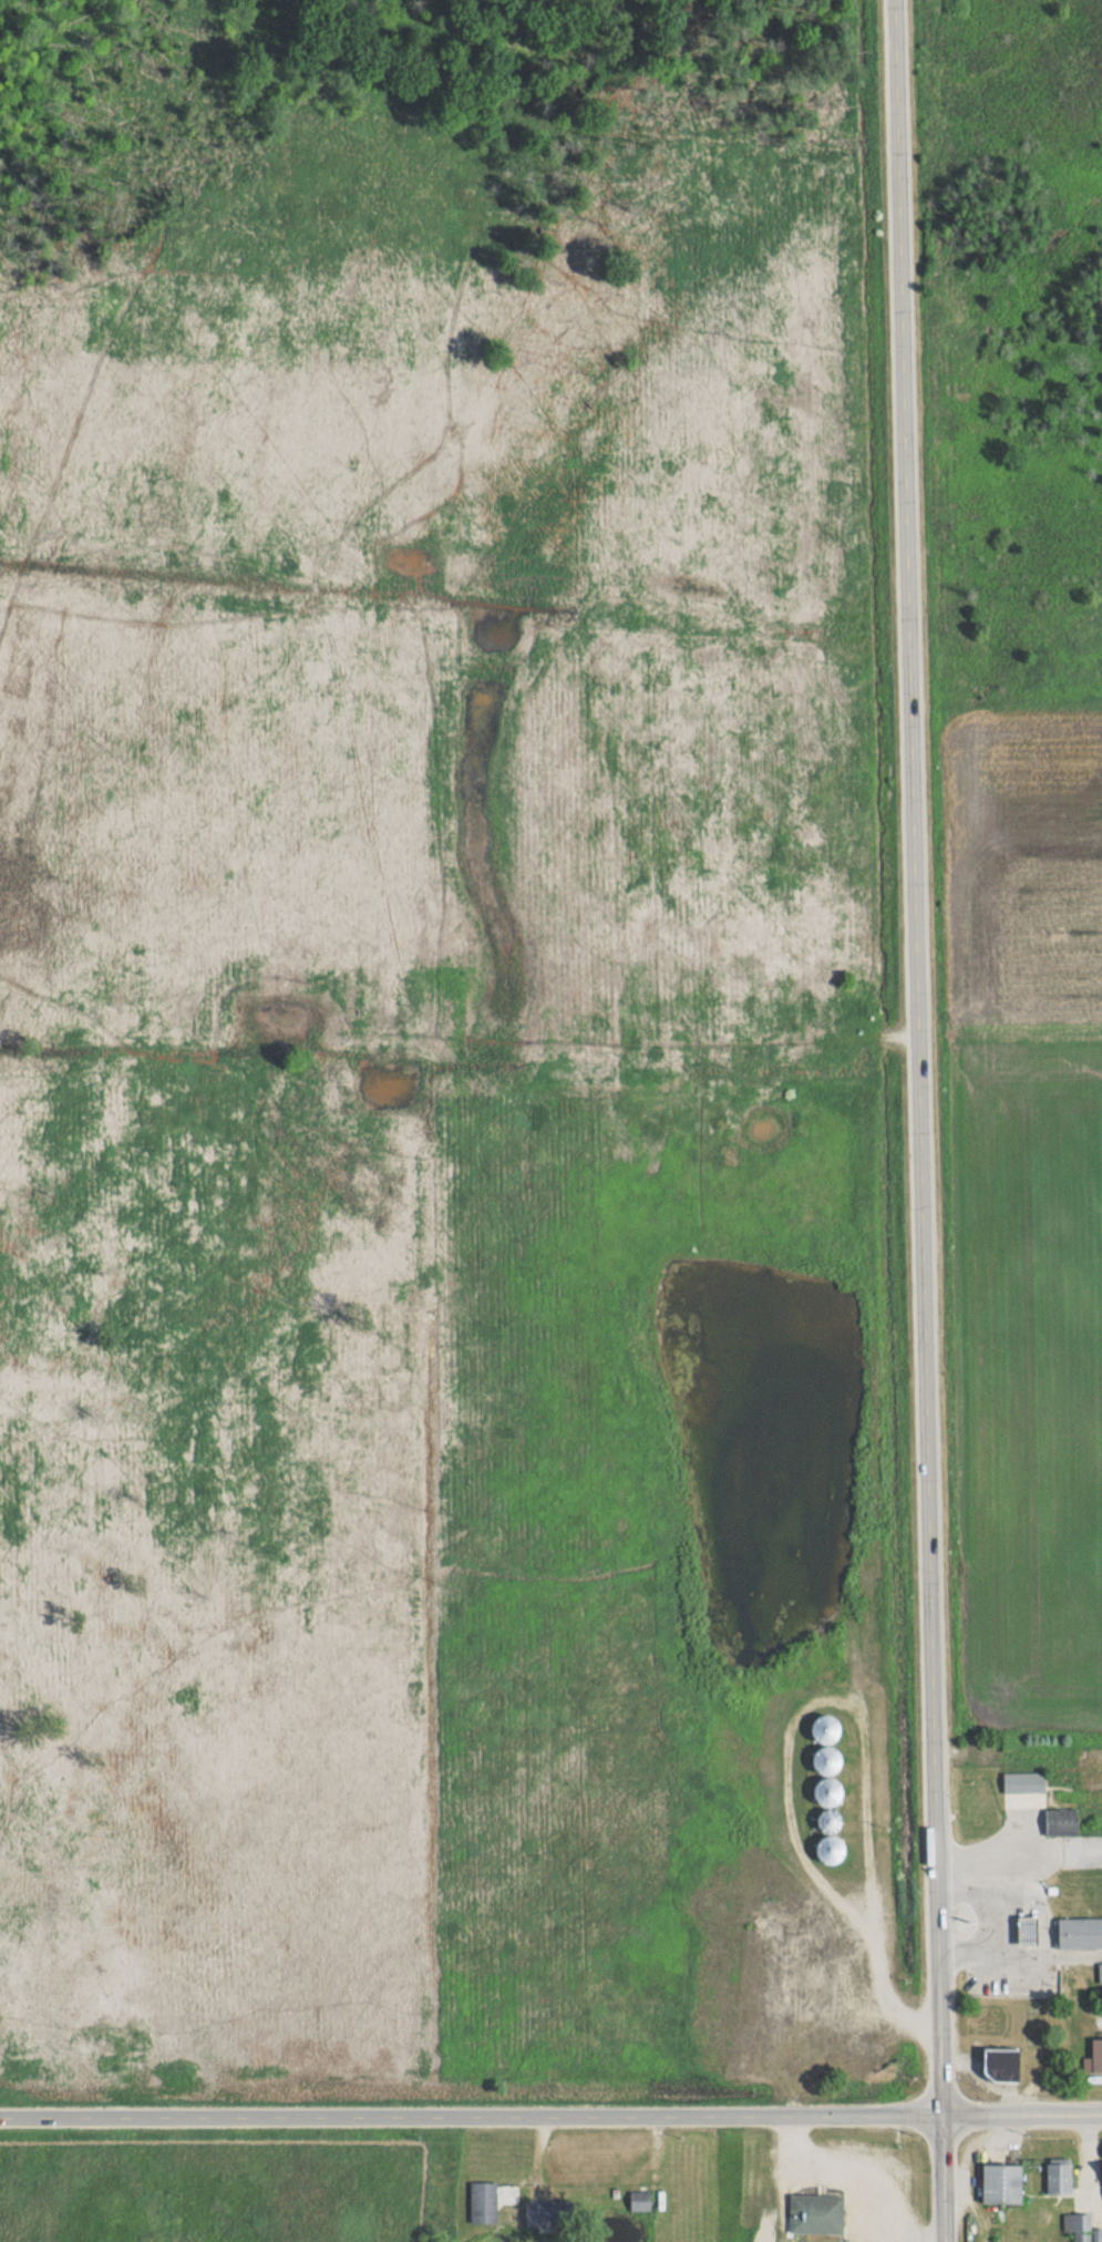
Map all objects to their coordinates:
road: (921, 1121)
road: (867, 1729)
building: (1023, 1781)
building: (825, 1791)
parking lot: (1022, 1800)
building: (1060, 1821)
building: (828, 1849)
road: (1008, 1859)
building: (1028, 1929)
building: (1079, 1931)
building: (1100, 1971)
building: (1094, 2055)
building: (1003, 2064)
road: (1022, 2115)
road: (471, 2116)
road: (866, 2167)
building: (1060, 2178)
building: (1001, 2182)
building: (646, 2200)
building: (482, 2202)
building: (816, 2211)
building: (549, 2213)
building: (1078, 2226)

